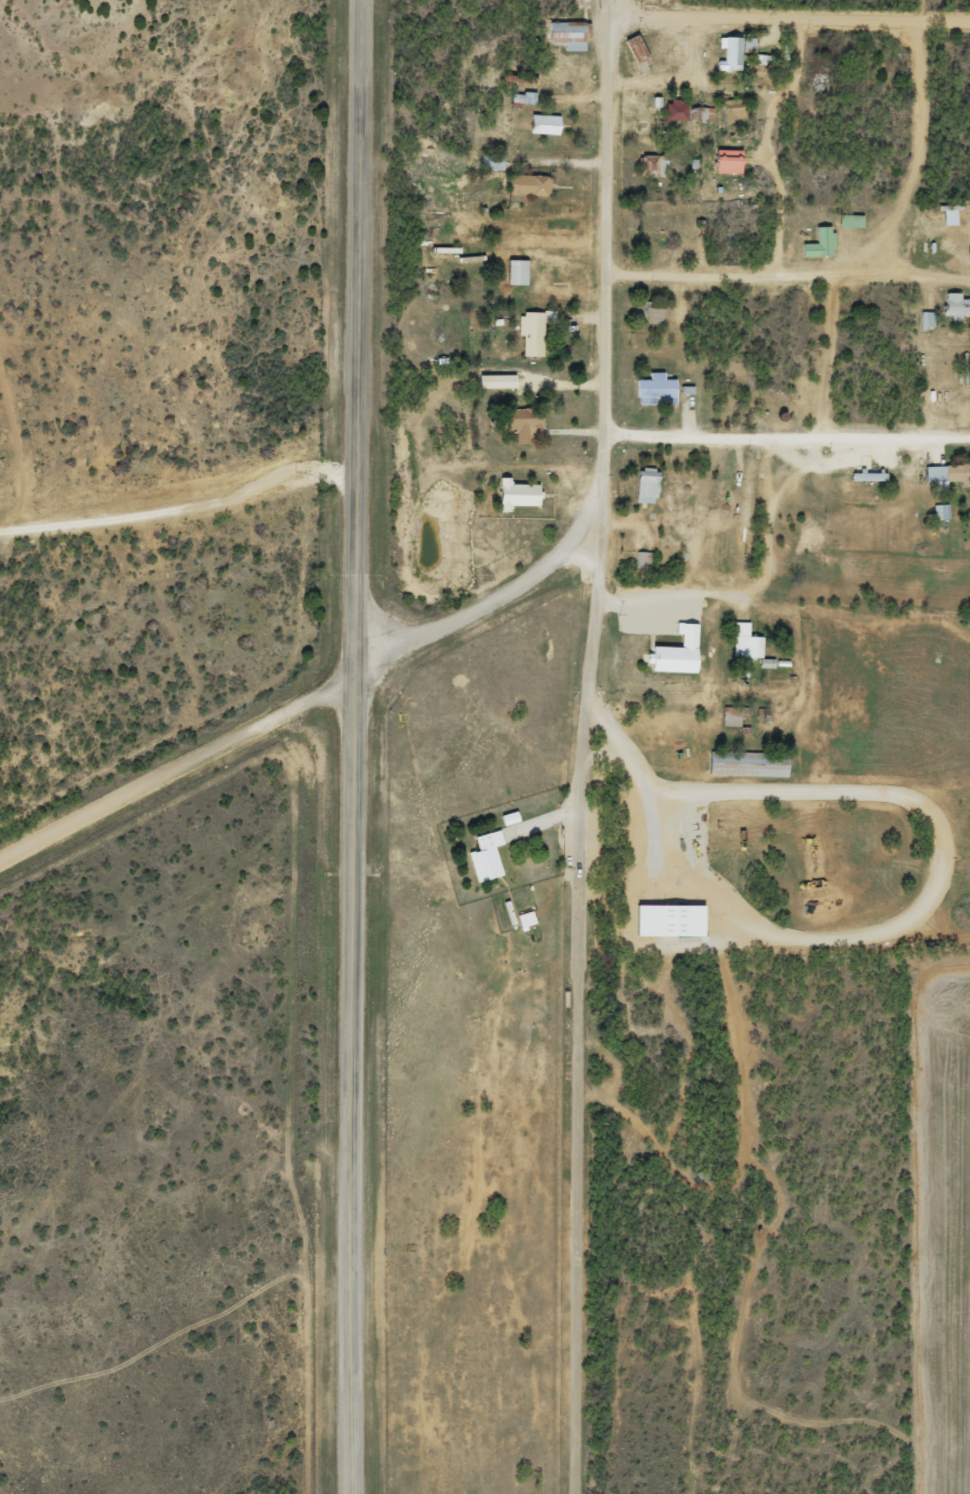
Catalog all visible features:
building: (643, 0)
building: (561, 35)
building: (632, 53)
building: (726, 53)
road: (808, 58)
building: (518, 97)
building: (670, 110)
building: (726, 110)
building: (701, 113)
building: (539, 124)
road: (714, 126)
building: (486, 161)
building: (721, 161)
building: (646, 166)
road: (926, 188)
building: (844, 220)
building: (647, 222)
building: (814, 244)
building: (510, 272)
road: (803, 290)
building: (952, 305)
building: (647, 314)
building: (526, 334)
building: (490, 381)
building: (648, 390)
road: (182, 407)
building: (520, 421)
road: (796, 431)
building: (862, 472)
building: (943, 473)
building: (641, 485)
building: (510, 493)
building: (795, 563)
road: (791, 566)
road: (467, 610)
building: (740, 642)
building: (670, 653)
building: (726, 718)
road: (587, 737)
road: (354, 746)
building: (743, 763)
road: (176, 765)
building: (481, 856)
building: (662, 920)

